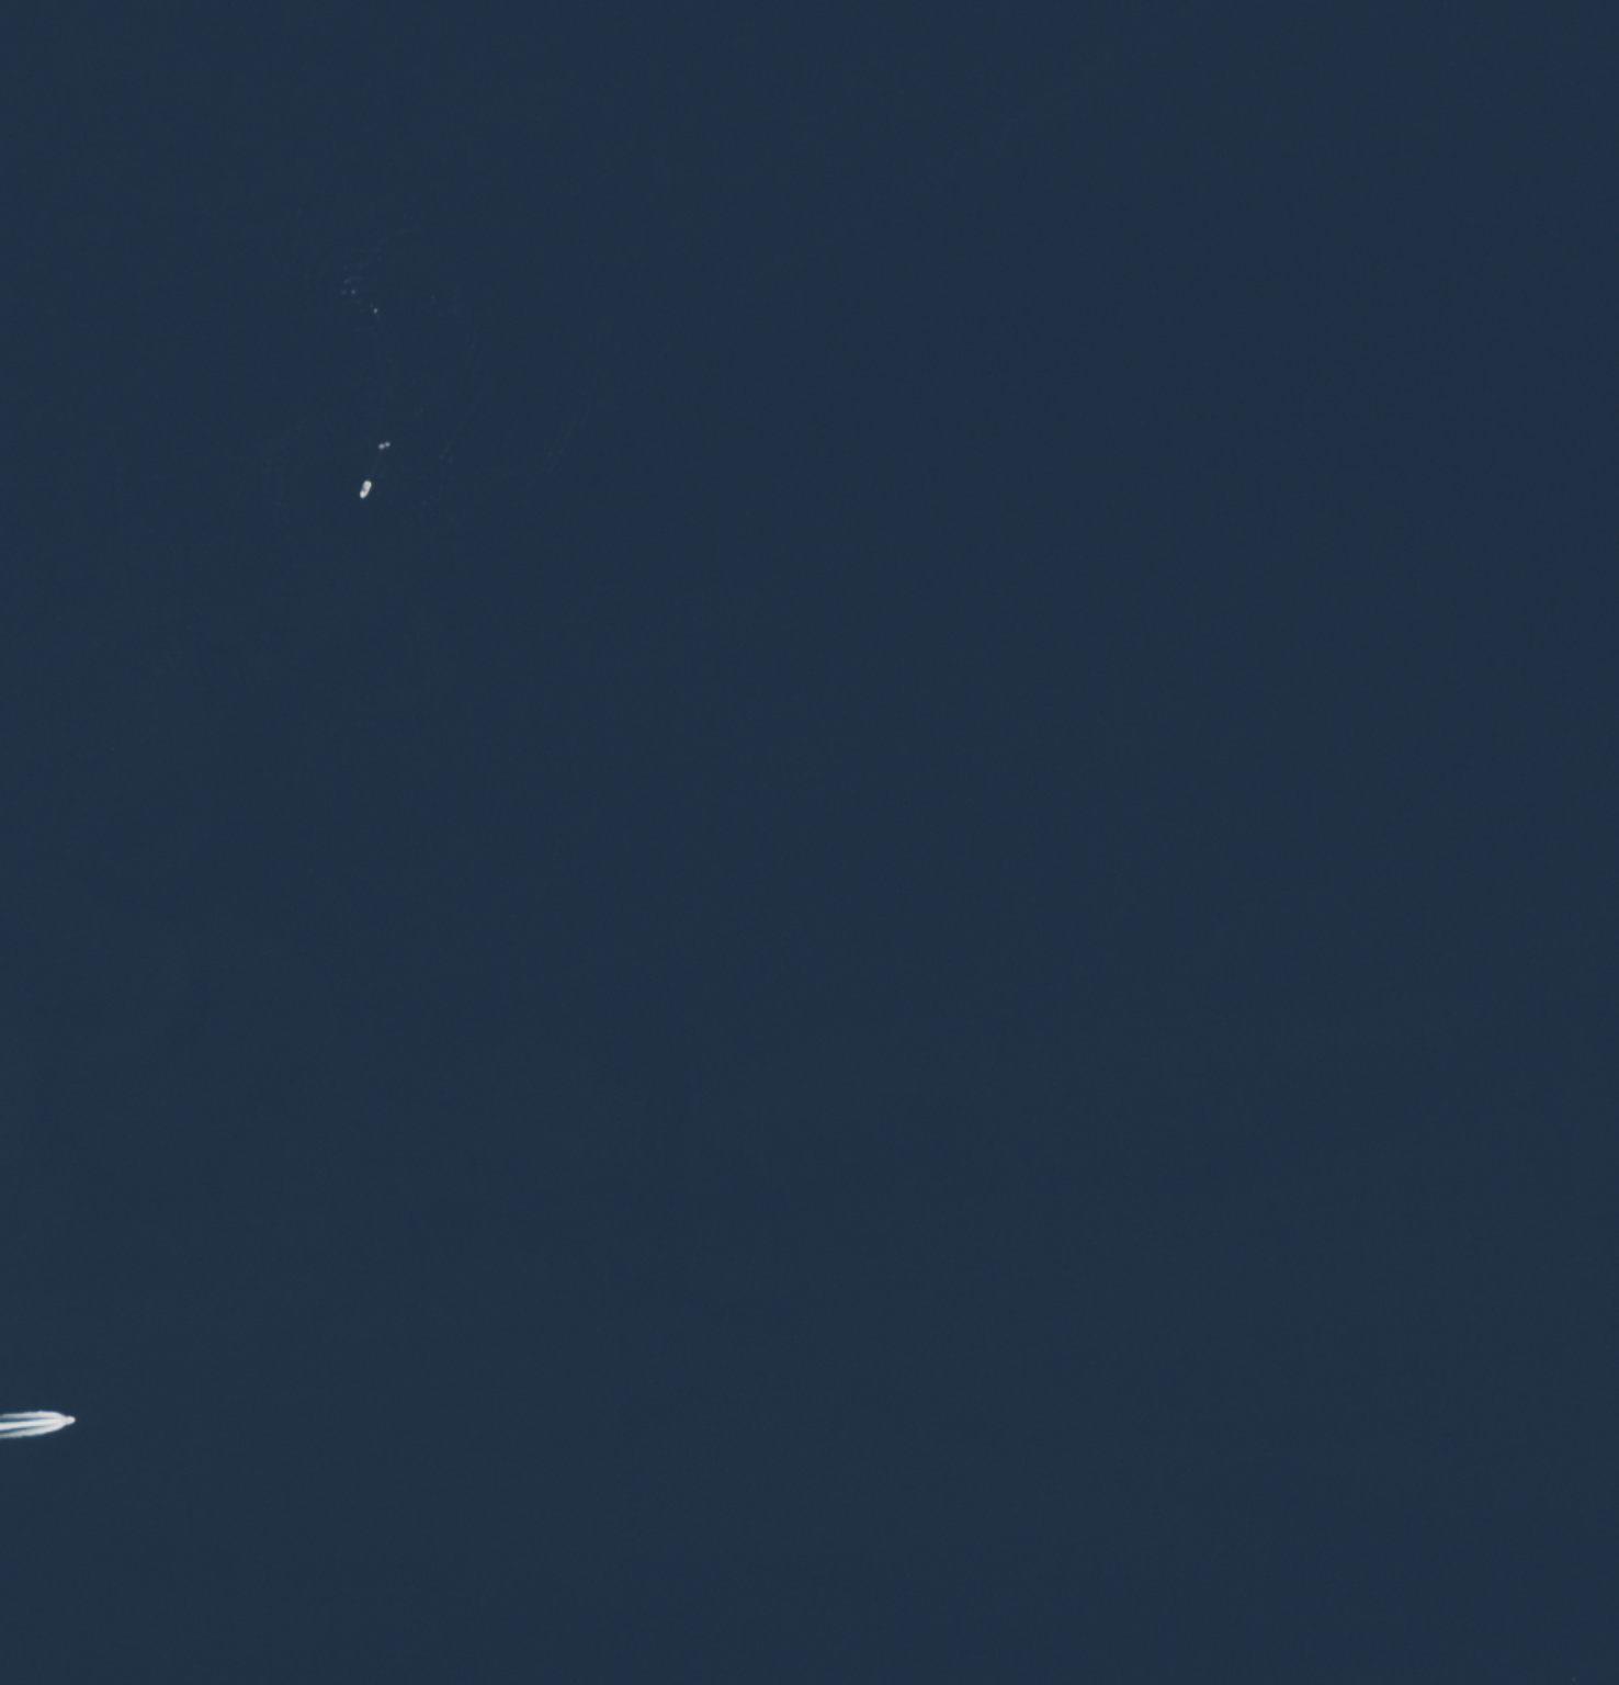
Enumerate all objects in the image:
river: (810, 981)

